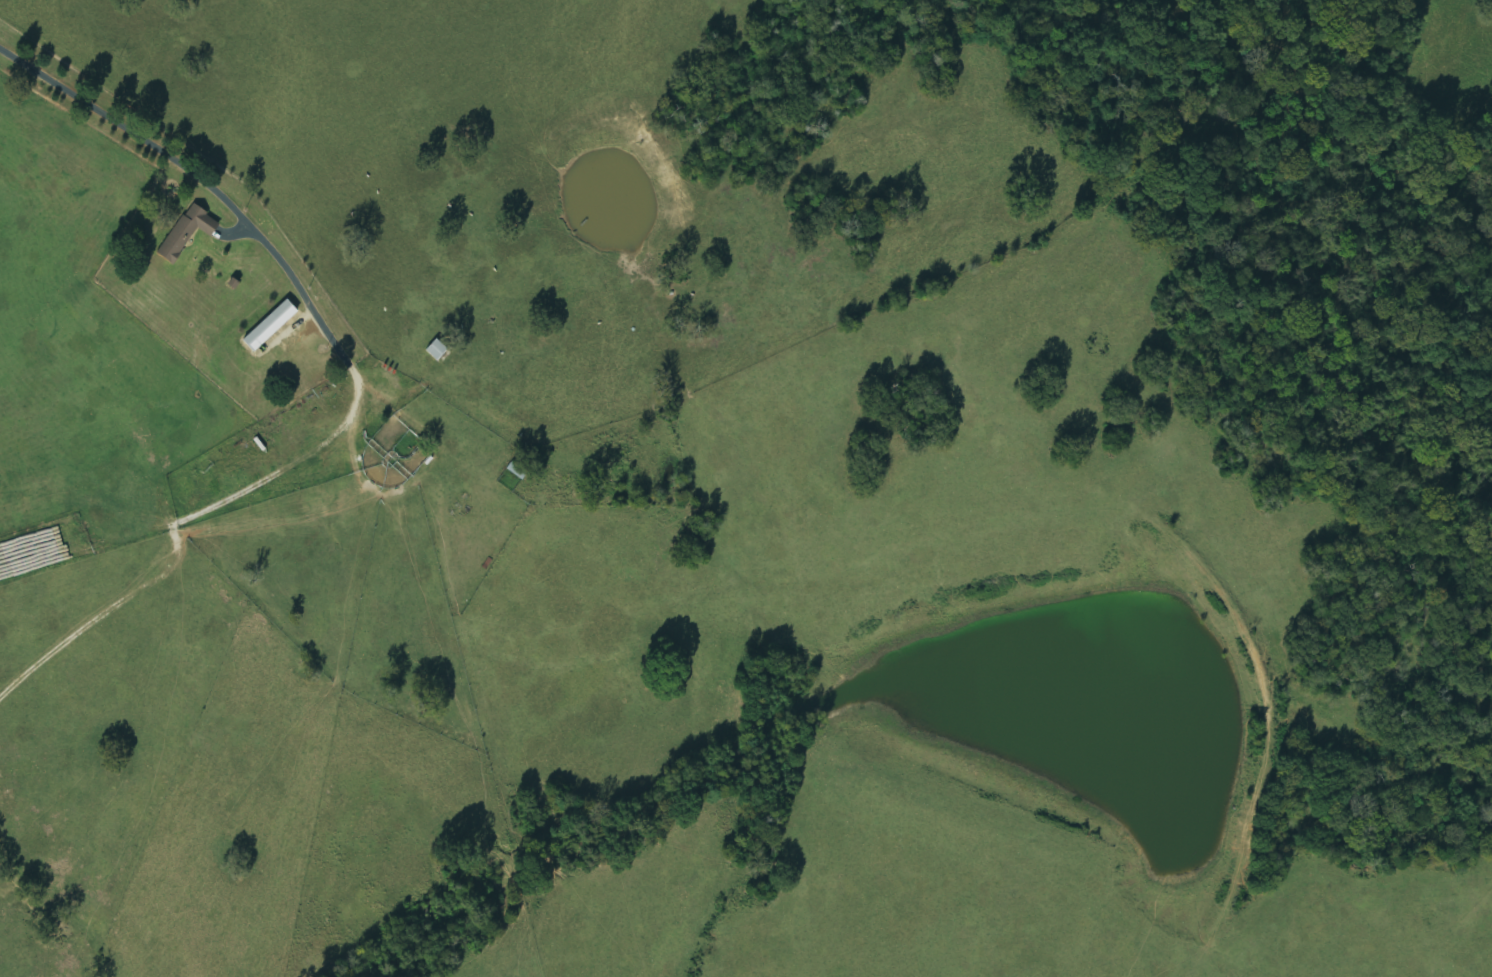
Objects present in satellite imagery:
road: (216, 195)
building: (191, 232)
building: (274, 326)

